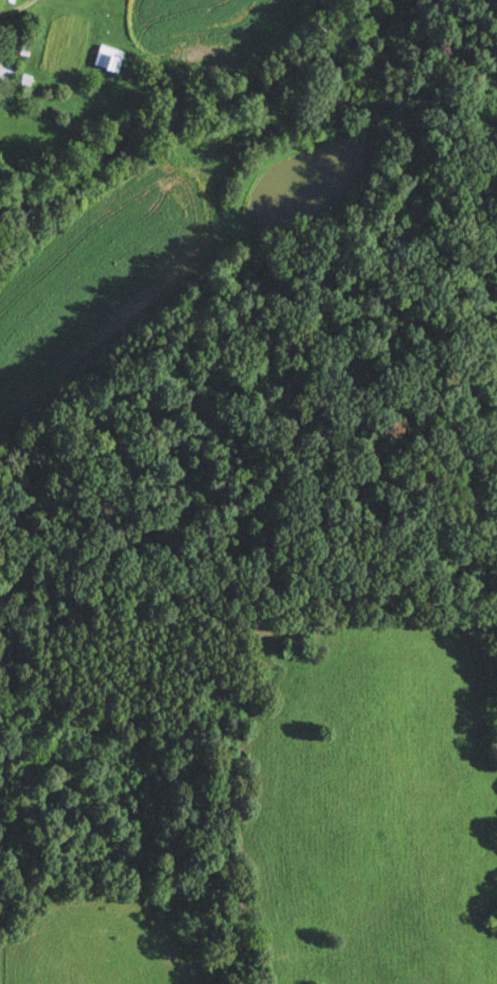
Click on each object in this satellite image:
building: (106, 58)

